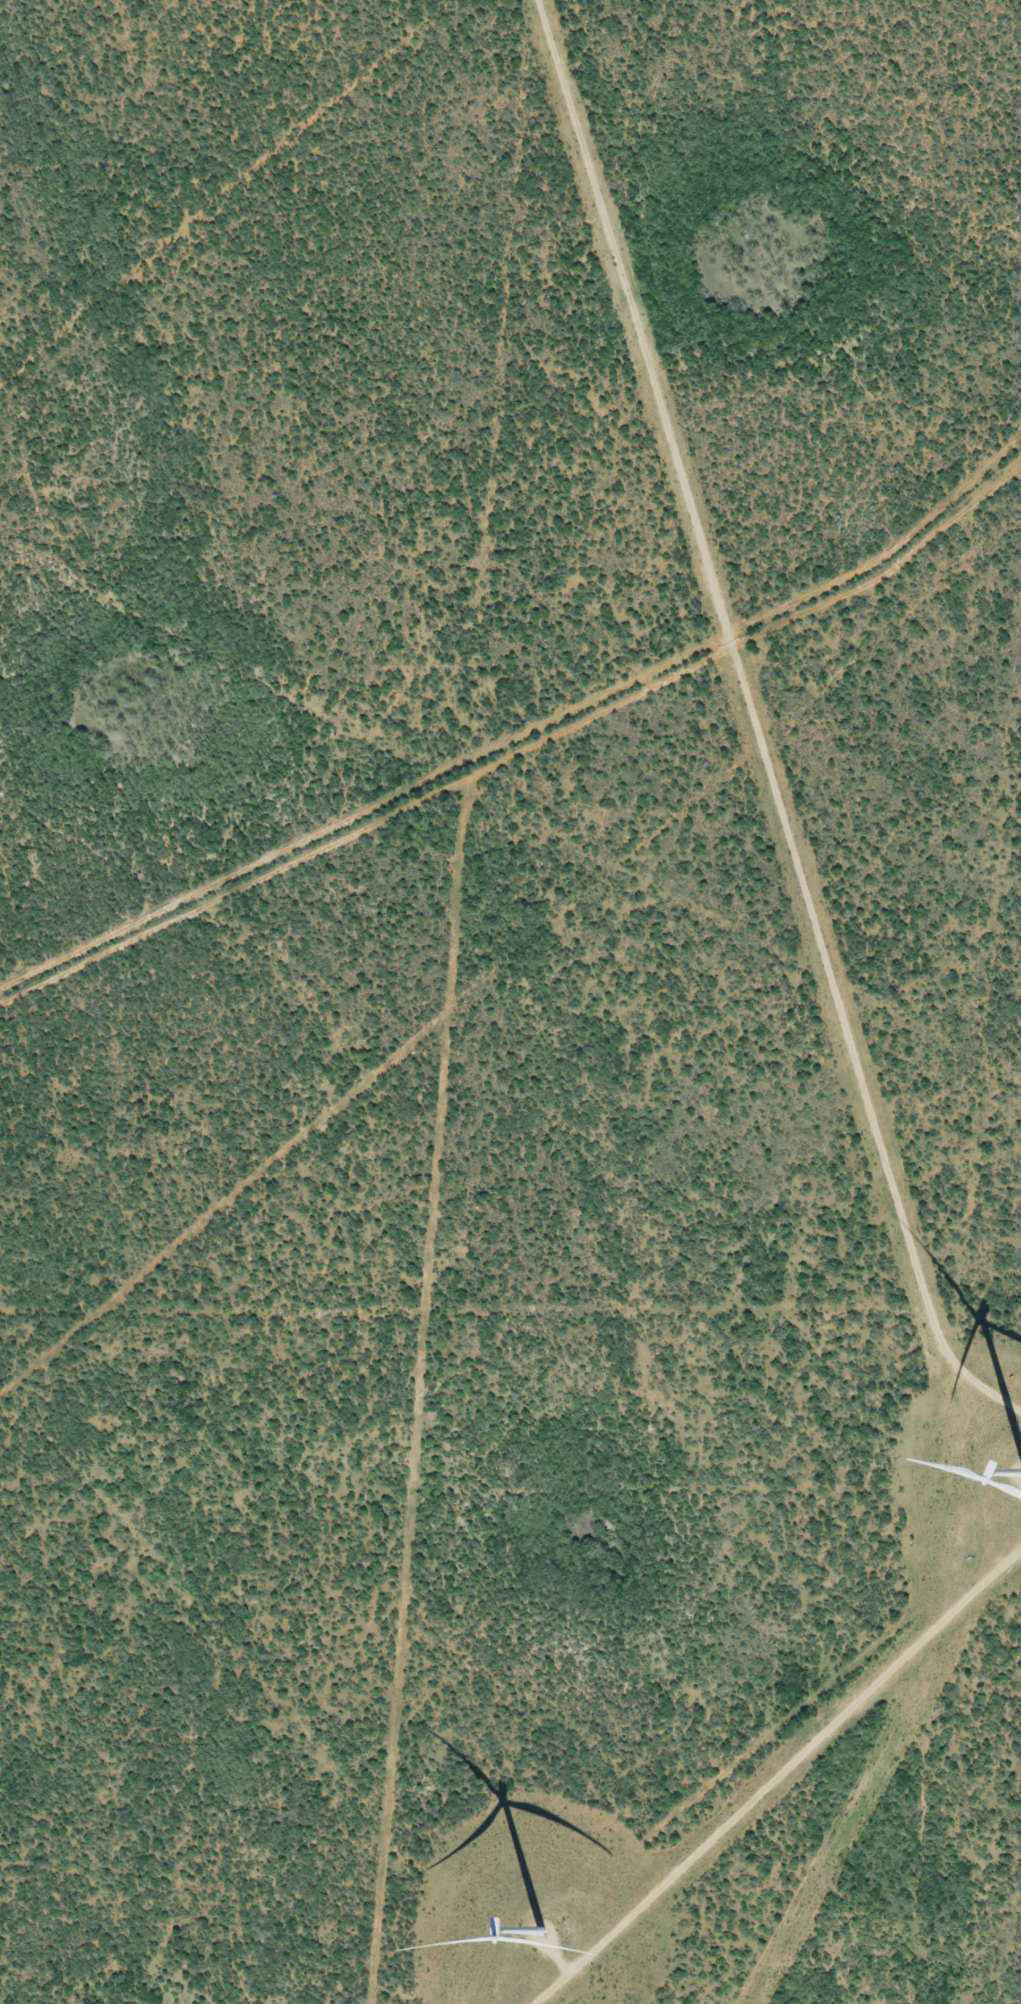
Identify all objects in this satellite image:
wind turbine: (535, 1941)

